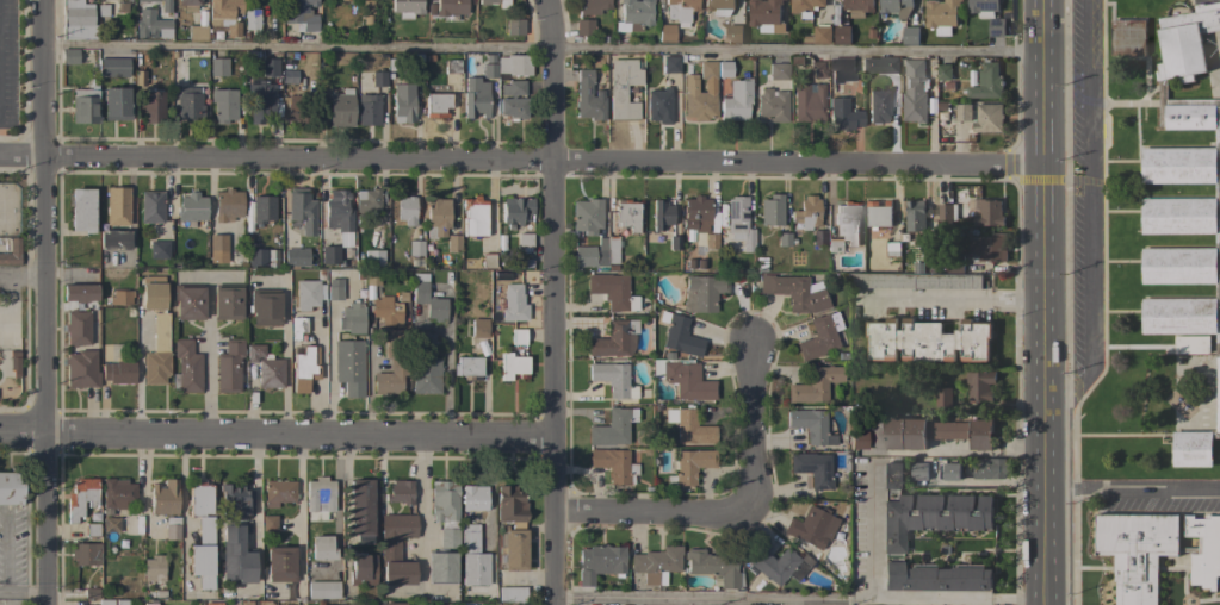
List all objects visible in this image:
building: (148, 1)
building: (488, 1)
building: (503, 4)
building: (190, 5)
building: (593, 6)
building: (719, 6)
building: (407, 7)
building: (451, 7)
building: (806, 7)
building: (857, 7)
building: (983, 7)
building: (894, 8)
building: (680, 11)
building: (225, 14)
building: (301, 15)
building: (633, 15)
building: (766, 15)
building: (941, 15)
building: (78, 20)
building: (252, 20)
building: (151, 25)
building: (514, 26)
building: (583, 26)
building: (996, 26)
building: (665, 32)
building: (197, 33)
building: (733, 33)
building: (842, 35)
building: (819, 36)
building: (910, 36)
building: (1128, 37)
road: (544, 49)
building: (69, 56)
building: (670, 63)
building: (514, 64)
building: (881, 66)
building: (113, 67)
building: (218, 67)
building: (452, 67)
building: (270, 68)
building: (724, 69)
building: (818, 69)
building: (489, 70)
building: (778, 70)
building: (840, 71)
building: (943, 71)
building: (378, 79)
building: (987, 82)
building: (623, 89)
building: (915, 92)
building: (700, 93)
building: (475, 98)
building: (588, 98)
building: (733, 99)
building: (513, 100)
building: (261, 101)
building: (402, 102)
building: (809, 102)
building: (116, 104)
building: (190, 104)
building: (85, 105)
building: (223, 105)
building: (436, 105)
building: (658, 105)
building: (772, 105)
building: (878, 106)
building: (153, 107)
building: (297, 108)
building: (340, 108)
building: (367, 110)
building: (962, 112)
building: (843, 114)
building: (989, 117)
road: (520, 157)
building: (367, 200)
building: (227, 205)
building: (117, 206)
building: (151, 207)
building: (191, 207)
building: (1184, 208)
building: (81, 210)
building: (262, 210)
building: (302, 210)
building: (405, 210)
building: (516, 210)
building: (770, 211)
building: (986, 211)
building: (337, 212)
building: (947, 212)
road: (1091, 212)
building: (662, 213)
building: (696, 213)
building: (806, 213)
building: (879, 213)
building: (587, 216)
building: (626, 216)
building: (915, 216)
building: (436, 217)
building: (475, 217)
building: (739, 223)
building: (847, 223)
building: (818, 237)
building: (113, 239)
building: (525, 239)
building: (782, 239)
building: (453, 243)
building: (711, 243)
building: (834, 245)
building: (415, 248)
building: (990, 248)
building: (159, 249)
building: (217, 249)
building: (612, 249)
building: (892, 249)
building: (11, 252)
building: (329, 255)
building: (295, 256)
building: (373, 256)
building: (592, 256)
building: (256, 257)
building: (488, 260)
building: (955, 264)
building: (372, 277)
road: (4, 279)
road: (27, 280)
building: (917, 280)
building: (335, 289)
building: (609, 289)
building: (794, 292)
building: (80, 293)
building: (153, 293)
building: (702, 293)
building: (308, 294)
building: (120, 297)
road: (956, 299)
road: (48, 301)
building: (188, 301)
building: (227, 301)
building: (428, 301)
road: (555, 301)
road: (1045, 302)
building: (514, 304)
road: (8, 305)
building: (265, 306)
building: (386, 311)
building: (352, 318)
building: (297, 326)
building: (78, 328)
building: (478, 328)
building: (680, 336)
building: (518, 337)
building: (819, 337)
building: (615, 339)
building: (928, 341)
building: (396, 344)
building: (426, 344)
building: (1191, 344)
road: (328, 350)
building: (157, 353)
road: (208, 356)
road: (285, 360)
road: (447, 366)
building: (513, 366)
building: (186, 367)
building: (229, 367)
building: (349, 367)
building: (467, 367)
building: (266, 368)
building: (81, 369)
building: (305, 369)
building: (118, 372)
building: (426, 375)
road: (138, 376)
building: (682, 378)
building: (613, 379)
building: (391, 380)
building: (815, 385)
building: (980, 385)
building: (942, 397)
road: (755, 425)
building: (810, 425)
building: (689, 426)
building: (612, 428)
building: (935, 432)
road: (278, 436)
building: (857, 438)
road: (959, 454)
building: (613, 464)
building: (690, 466)
building: (812, 468)
building: (991, 468)
building: (950, 470)
building: (919, 472)
road: (1133, 486)
building: (11, 487)
building: (278, 492)
building: (400, 492)
building: (117, 493)
building: (81, 498)
building: (163, 498)
building: (320, 498)
building: (473, 499)
building: (237, 500)
road: (256, 510)
building: (360, 510)
building: (445, 511)
road: (654, 511)
road: (423, 516)
building: (936, 516)
building: (110, 524)
building: (270, 524)
building: (512, 528)
building: (811, 528)
building: (172, 529)
road: (299, 530)
building: (203, 536)
building: (396, 548)
building: (322, 549)
building: (1156, 551)
building: (86, 554)
building: (236, 556)
building: (471, 556)
building: (599, 562)
building: (280, 563)
building: (656, 563)
building: (778, 565)
building: (441, 567)
building: (713, 567)
building: (154, 568)
building: (363, 569)
building: (323, 590)
road: (25, 591)
building: (91, 591)
building: (514, 593)
building: (105, 601)
road: (801, 601)
building: (122, 603)
building: (150, 603)
building: (212, 604)
building: (394, 604)
building: (447, 604)
building: (516, 604)

